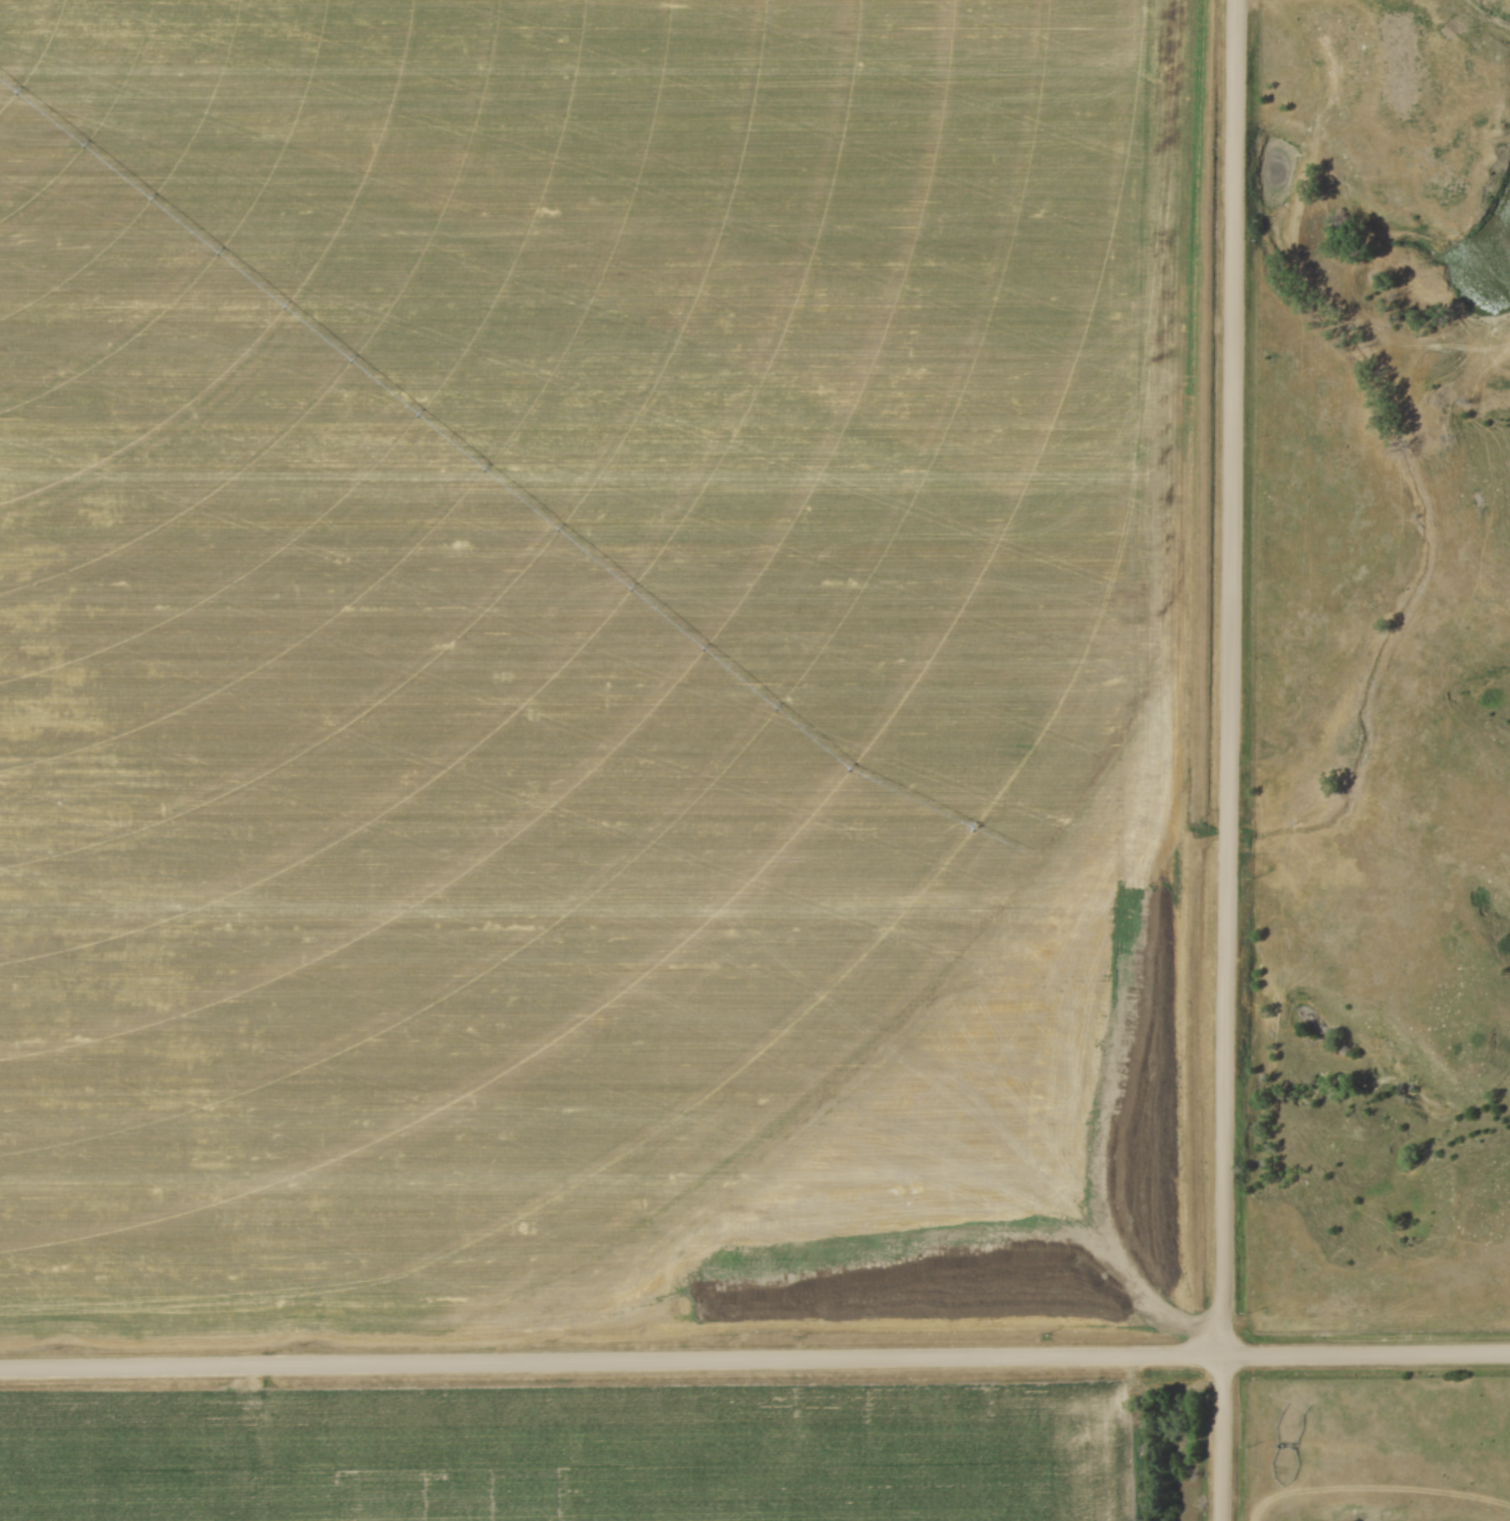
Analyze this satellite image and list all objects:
road: (1228, 760)
road: (754, 1356)
crop: (573, 1455)

